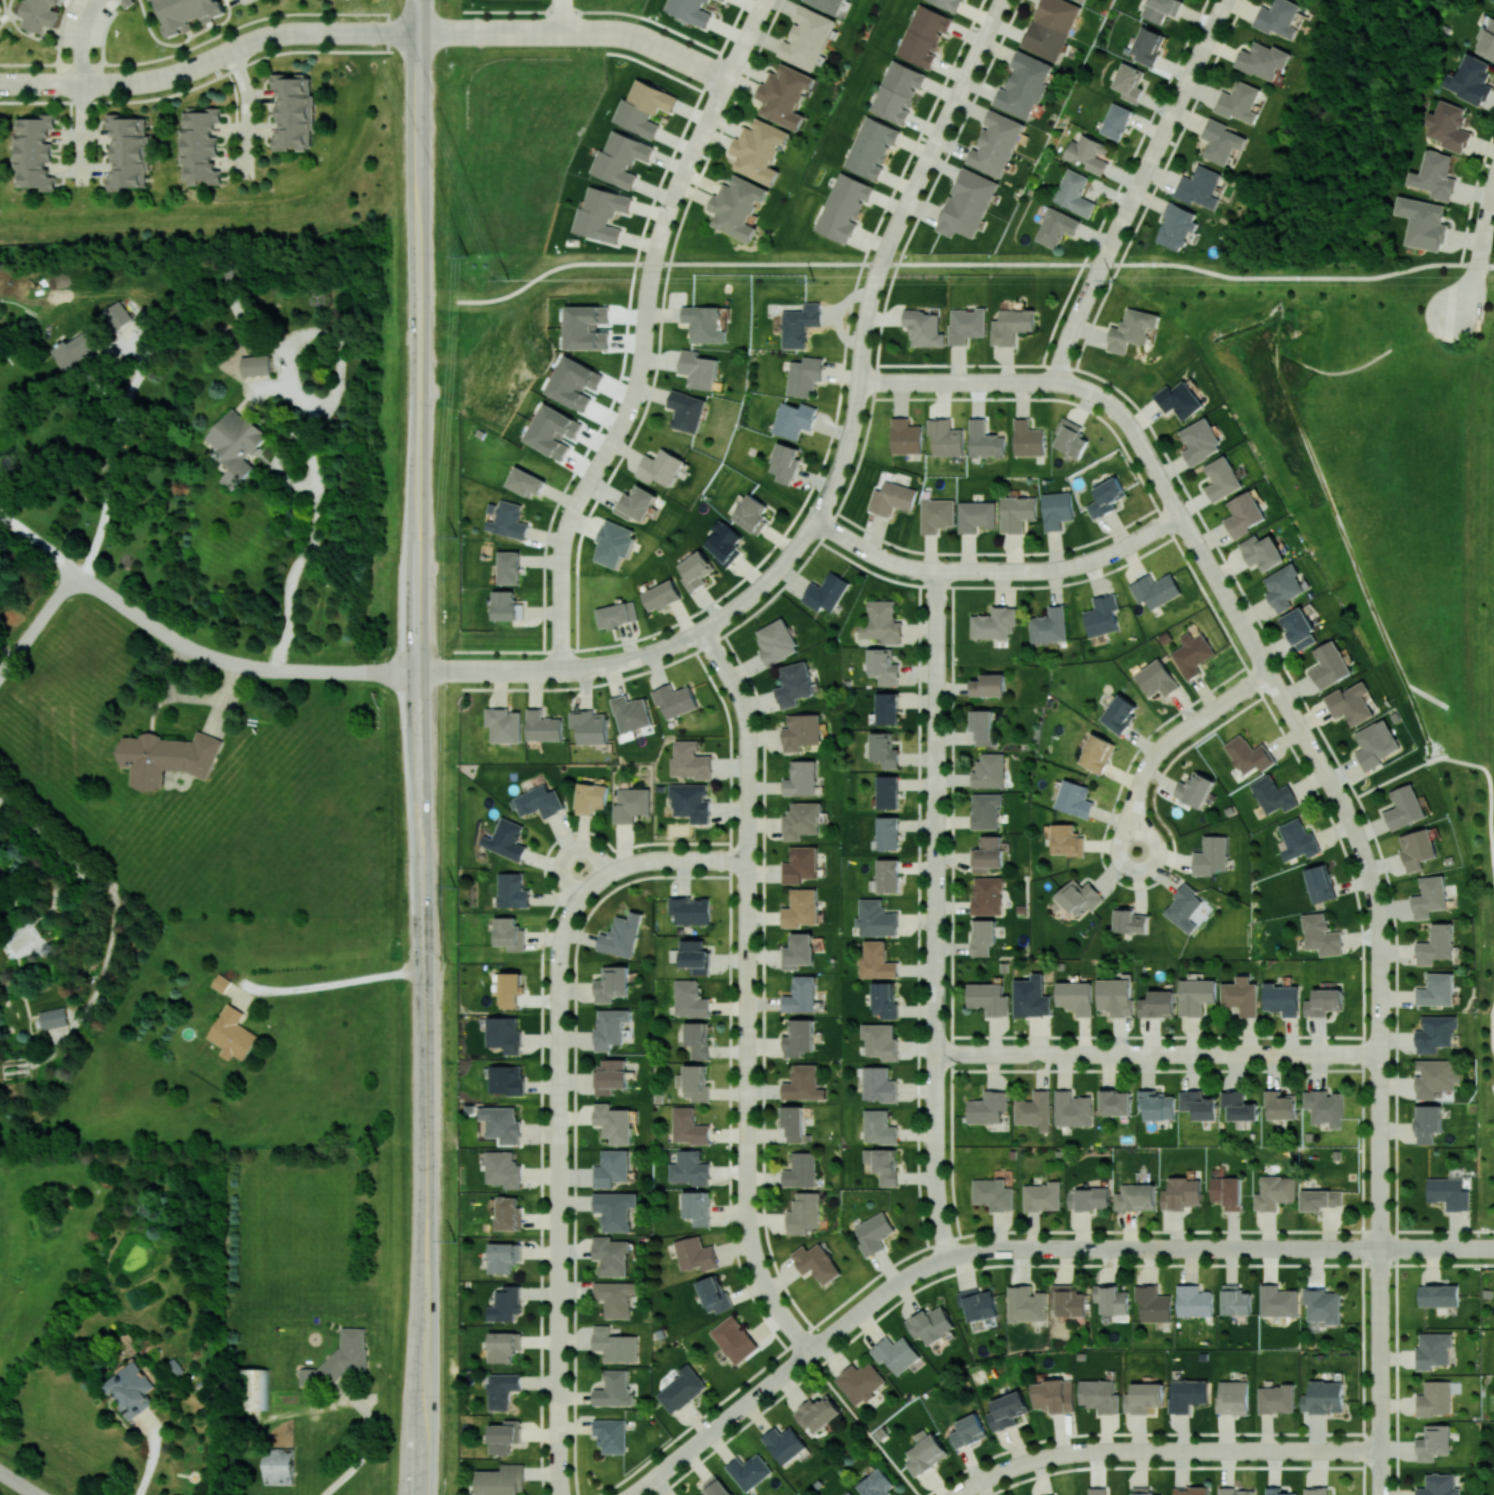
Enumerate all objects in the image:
building: (151, 0)
building: (723, 0)
building: (1083, 1)
building: (947, 3)
building: (0, 5)
building: (828, 5)
building: (1161, 9)
road: (594, 11)
building: (689, 11)
building: (186, 13)
building: (38, 14)
road: (416, 16)
road: (417, 16)
road: (563, 16)
building: (1277, 18)
building: (1051, 27)
road: (391, 33)
road: (404, 33)
road: (439, 33)
road: (533, 33)
road: (616, 34)
building: (924, 35)
road: (212, 36)
building: (808, 38)
road: (79, 39)
road: (746, 40)
building: (1487, 42)
building: (1147, 46)
road: (678, 56)
building: (1262, 60)
road: (197, 66)
road: (653, 67)
building: (1470, 80)
building: (1129, 82)
road: (197, 85)
building: (1024, 85)
building: (897, 91)
road: (235, 95)
building: (784, 95)
building: (1239, 102)
building: (643, 107)
building: (293, 111)
road: (246, 114)
road: (70, 115)
building: (1116, 121)
building: (1449, 126)
park: (1345, 130)
road: (80, 135)
road: (939, 136)
building: (1220, 141)
building: (996, 143)
road: (417, 144)
building: (199, 145)
building: (871, 147)
building: (759, 150)
building: (33, 151)
building: (128, 152)
building: (1088, 153)
building: (620, 158)
road: (688, 165)
building: (1435, 175)
building: (1199, 187)
road: (1137, 190)
building: (1073, 193)
building: (967, 203)
building: (737, 207)
building: (843, 207)
building: (601, 213)
building: (1423, 222)
road: (1486, 223)
building: (1177, 226)
building: (1055, 227)
park: (196, 228)
power tower: (466, 255)
road: (655, 263)
park: (557, 264)
road: (768, 264)
road: (992, 264)
road: (550, 269)
road: (1298, 277)
power tower: (508, 279)
power tower: (813, 280)
power tower: (1112, 280)
road: (651, 284)
road: (1471, 288)
building: (117, 315)
road: (626, 323)
building: (704, 323)
building: (799, 324)
building: (966, 325)
building: (1011, 325)
park: (515, 326)
building: (585, 327)
building: (924, 328)
building: (1132, 330)
building: (80, 350)
building: (256, 364)
building: (698, 369)
building: (804, 376)
building: (573, 382)
road: (958, 382)
road: (1085, 389)
road: (633, 395)
road: (857, 399)
building: (1178, 399)
road: (1117, 410)
building: (687, 411)
building: (793, 419)
building: (552, 431)
building: (906, 436)
building: (946, 437)
building: (1070, 438)
building: (1028, 439)
building: (985, 440)
park: (1314, 440)
road: (829, 441)
building: (1200, 441)
building: (236, 444)
road: (118, 457)
road: (857, 462)
building: (785, 463)
building: (661, 467)
building: (1221, 478)
building: (526, 482)
road: (584, 492)
building: (1106, 497)
building: (892, 498)
building: (636, 504)
road: (574, 509)
building: (1056, 509)
building: (1017, 513)
building: (751, 514)
building: (937, 514)
building: (1243, 514)
building: (976, 515)
building: (506, 519)
power tower: (454, 536)
road: (30, 537)
building: (613, 543)
building: (724, 543)
road: (1197, 544)
building: (1262, 552)
road: (297, 564)
building: (509, 567)
building: (695, 570)
road: (998, 571)
building: (1284, 587)
building: (1155, 590)
building: (826, 592)
road: (562, 594)
building: (661, 595)
building: (505, 604)
building: (617, 614)
building: (1102, 615)
building: (882, 622)
building: (994, 623)
road: (38, 624)
building: (1049, 625)
building: (1299, 628)
building: (776, 642)
road: (6, 654)
building: (1192, 654)
road: (640, 655)
road: (222, 662)
building: (1329, 665)
building: (883, 666)
building: (1156, 678)
building: (794, 684)
building: (989, 685)
building: (674, 700)
building: (1350, 703)
building: (887, 708)
building: (1120, 713)
building: (630, 715)
building: (504, 724)
building: (543, 726)
building: (589, 726)
building: (982, 726)
building: (801, 731)
road: (1302, 733)
road: (1170, 741)
building: (1375, 744)
building: (884, 750)
building: (1097, 753)
building: (1248, 755)
building: (167, 757)
building: (689, 760)
road: (1466, 762)
building: (989, 771)
building: (801, 779)
building: (1195, 789)
road: (1352, 790)
building: (887, 791)
building: (1273, 795)
building: (591, 798)
building: (1074, 799)
building: (538, 801)
road: (1341, 801)
building: (690, 802)
building: (631, 804)
building: (1404, 807)
building: (985, 810)
building: (801, 820)
building: (888, 832)
building: (506, 839)
building: (1066, 839)
building: (1297, 840)
building: (1417, 849)
road: (567, 852)
building: (987, 853)
building: (1211, 855)
road: (668, 860)
building: (800, 864)
road: (419, 875)
building: (886, 876)
building: (1320, 883)
road: (104, 886)
power tower: (454, 886)
building: (512, 890)
building: (987, 895)
building: (1079, 897)
building: (1429, 897)
building: (801, 908)
building: (1183, 908)
building: (690, 910)
building: (1201, 913)
road: (936, 915)
building: (876, 919)
building: (1129, 920)
building: (509, 933)
building: (621, 935)
building: (1321, 935)
building: (983, 936)
building: (1435, 944)
building: (799, 951)
building: (694, 956)
building: (876, 961)
building: (221, 983)
building: (611, 983)
road: (323, 985)
building: (510, 989)
building: (1436, 990)
road: (748, 993)
building: (801, 995)
building: (1196, 995)
building: (1241, 995)
building: (1115, 996)
building: (1031, 997)
building: (1075, 997)
building: (989, 998)
building: (1281, 998)
building: (690, 999)
building: (884, 999)
building: (1324, 1002)
building: (1157, 1004)
building: (53, 1017)
road: (1381, 1026)
building: (610, 1027)
building: (232, 1033)
building: (504, 1033)
building: (1435, 1033)
building: (799, 1038)
building: (698, 1039)
building: (880, 1041)
road: (1158, 1054)
building: (610, 1075)
building: (1435, 1076)
building: (506, 1079)
building: (694, 1082)
building: (803, 1083)
building: (878, 1084)
parking lot: (1492, 1088)
building: (1116, 1102)
building: (1198, 1104)
building: (1280, 1104)
building: (1157, 1105)
building: (1238, 1106)
building: (987, 1107)
building: (1325, 1107)
building: (1072, 1109)
building: (1034, 1110)
building: (613, 1122)
building: (793, 1122)
building: (501, 1123)
building: (1428, 1123)
building: (688, 1126)
building: (879, 1127)
building: (883, 1164)
building: (611, 1168)
building: (689, 1168)
building: (503, 1169)
building: (800, 1170)
road: (560, 1184)
building: (1227, 1192)
building: (1275, 1192)
building: (1181, 1193)
building: (1448, 1193)
building: (993, 1194)
building: (1042, 1196)
building: (1136, 1197)
building: (1088, 1199)
building: (1320, 1199)
building: (696, 1207)
building: (615, 1209)
building: (508, 1212)
building: (803, 1213)
road: (1444, 1231)
building: (873, 1233)
power tower: (455, 1240)
road: (1429, 1248)
road: (1485, 1248)
road: (966, 1253)
building: (695, 1254)
building: (611, 1255)
building: (503, 1257)
building: (816, 1262)
building: (713, 1294)
building: (1438, 1295)
building: (615, 1297)
building: (1111, 1299)
building: (1068, 1300)
building: (1235, 1300)
building: (1278, 1300)
building: (1194, 1301)
building: (1153, 1303)
building: (505, 1304)
building: (978, 1304)
building: (1026, 1304)
building: (1323, 1305)
building: (931, 1324)
building: (734, 1339)
building: (614, 1344)
building: (503, 1346)
building: (1433, 1349)
building: (896, 1353)
building: (343, 1359)
road: (1381, 1371)
building: (860, 1381)
building: (256, 1388)
building: (614, 1388)
building: (131, 1389)
building: (501, 1389)
building: (681, 1389)
building: (1187, 1394)
building: (1053, 1395)
building: (1100, 1395)
building: (1233, 1397)
building: (1323, 1397)
building: (1435, 1398)
building: (1276, 1399)
building: (1007, 1410)
building: (817, 1413)
building: (968, 1431)
building: (611, 1435)
building: (504, 1436)
building: (1433, 1442)
building: (784, 1443)
road: (370, 1444)
road: (1166, 1451)
building: (925, 1452)
road: (150, 1460)
building: (279, 1466)
building: (749, 1471)
building: (501, 1480)
road: (19, 1482)
building: (876, 1484)
building: (1439, 1485)
building: (715, 1487)
building: (1097, 1490)
building: (1142, 1490)
building: (1191, 1490)
building: (1316, 1490)
building: (1236, 1491)
building: (1281, 1492)
building: (850, 1494)
building: (1052, 1494)

